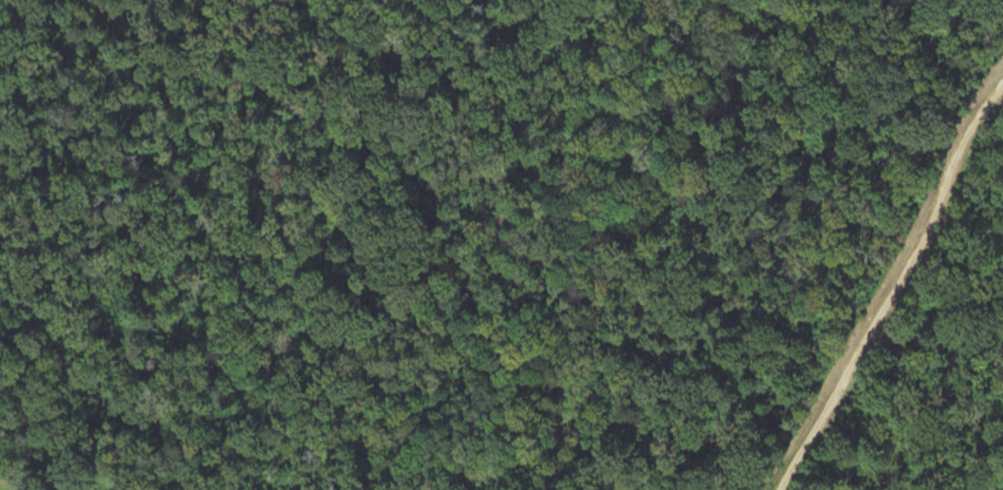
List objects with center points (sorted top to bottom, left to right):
road: (896, 299)

